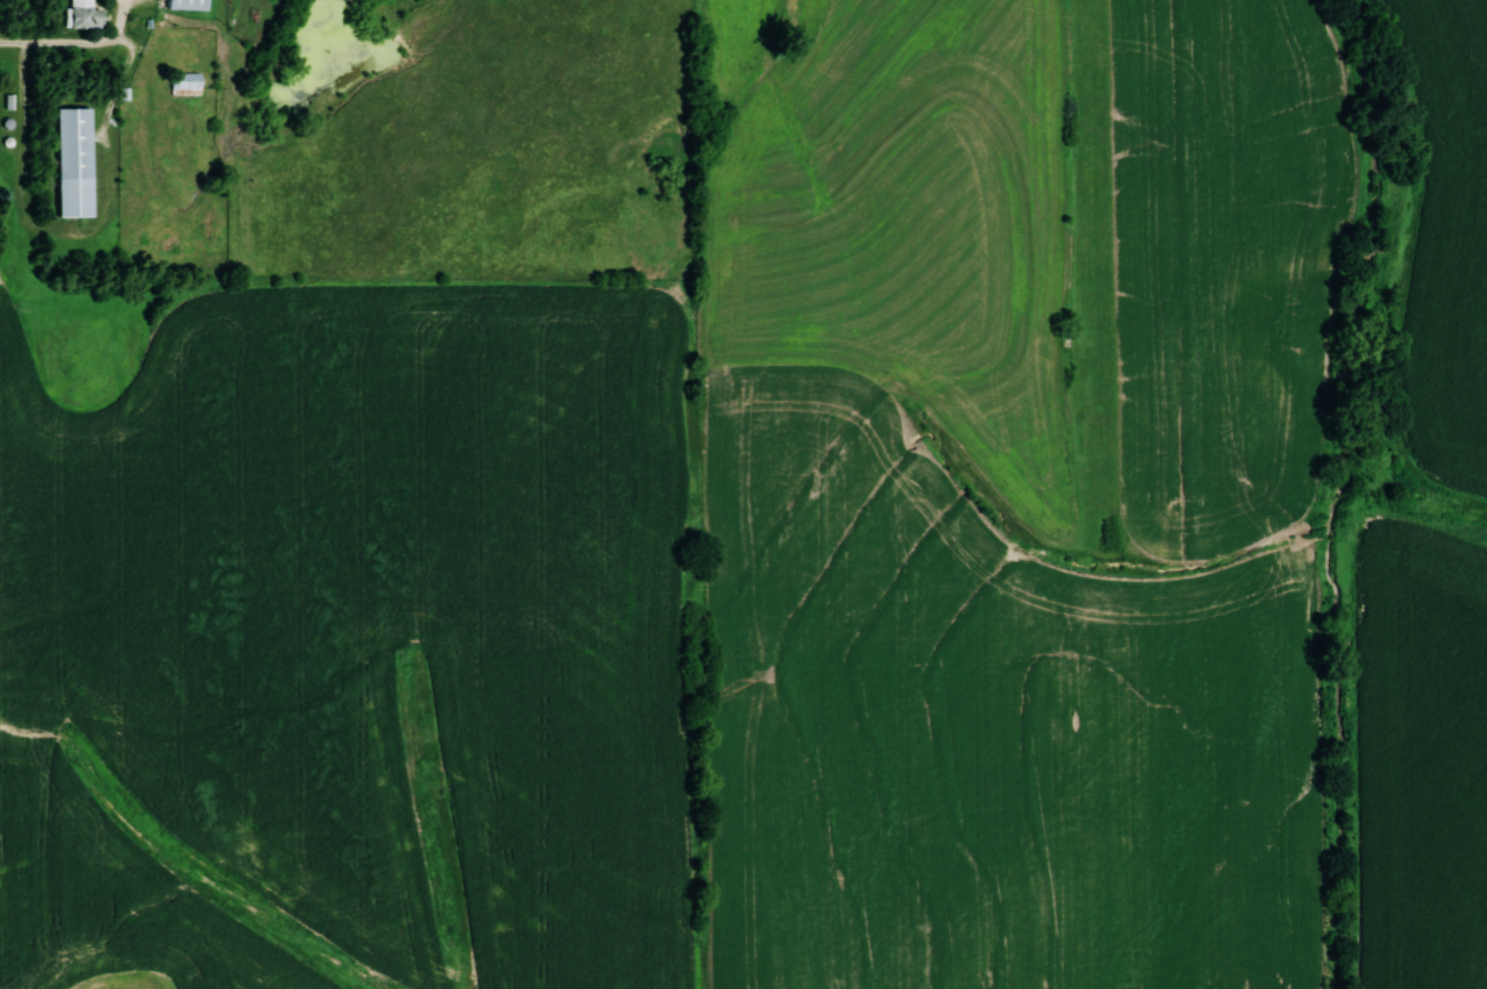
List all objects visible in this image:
building: (183, 4)
building: (82, 14)
building: (184, 83)
building: (71, 161)

